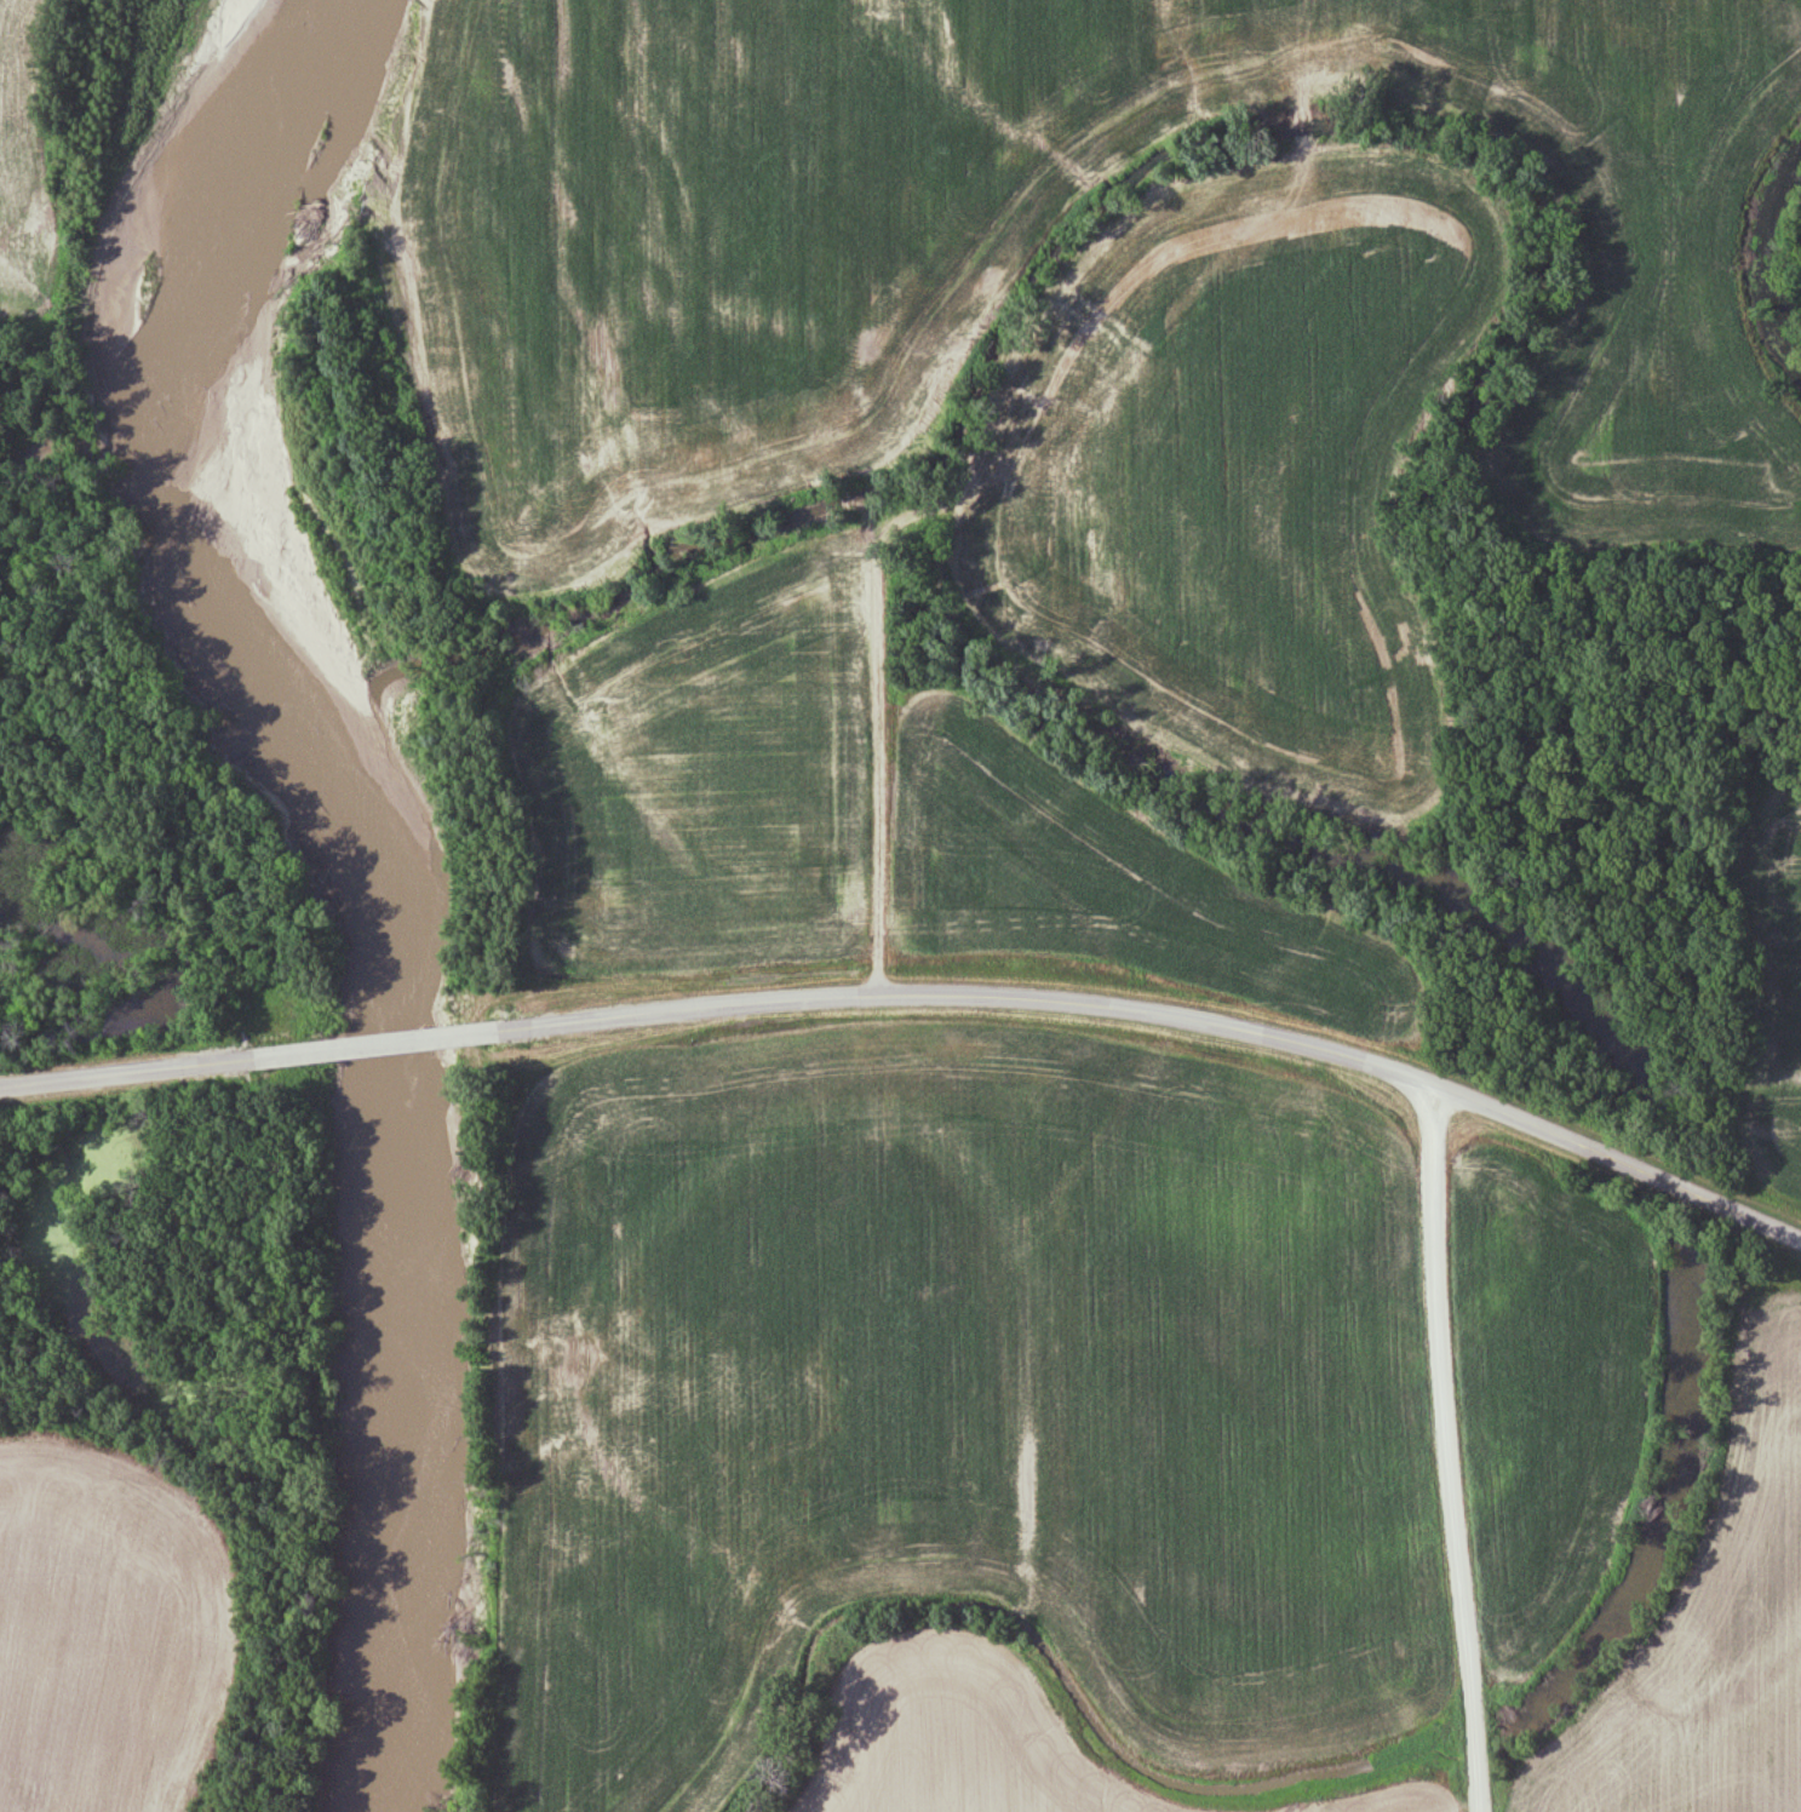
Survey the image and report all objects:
road: (870, 418)
road: (1163, 1017)
road: (382, 1045)
road: (137, 1072)
road: (1452, 1450)

